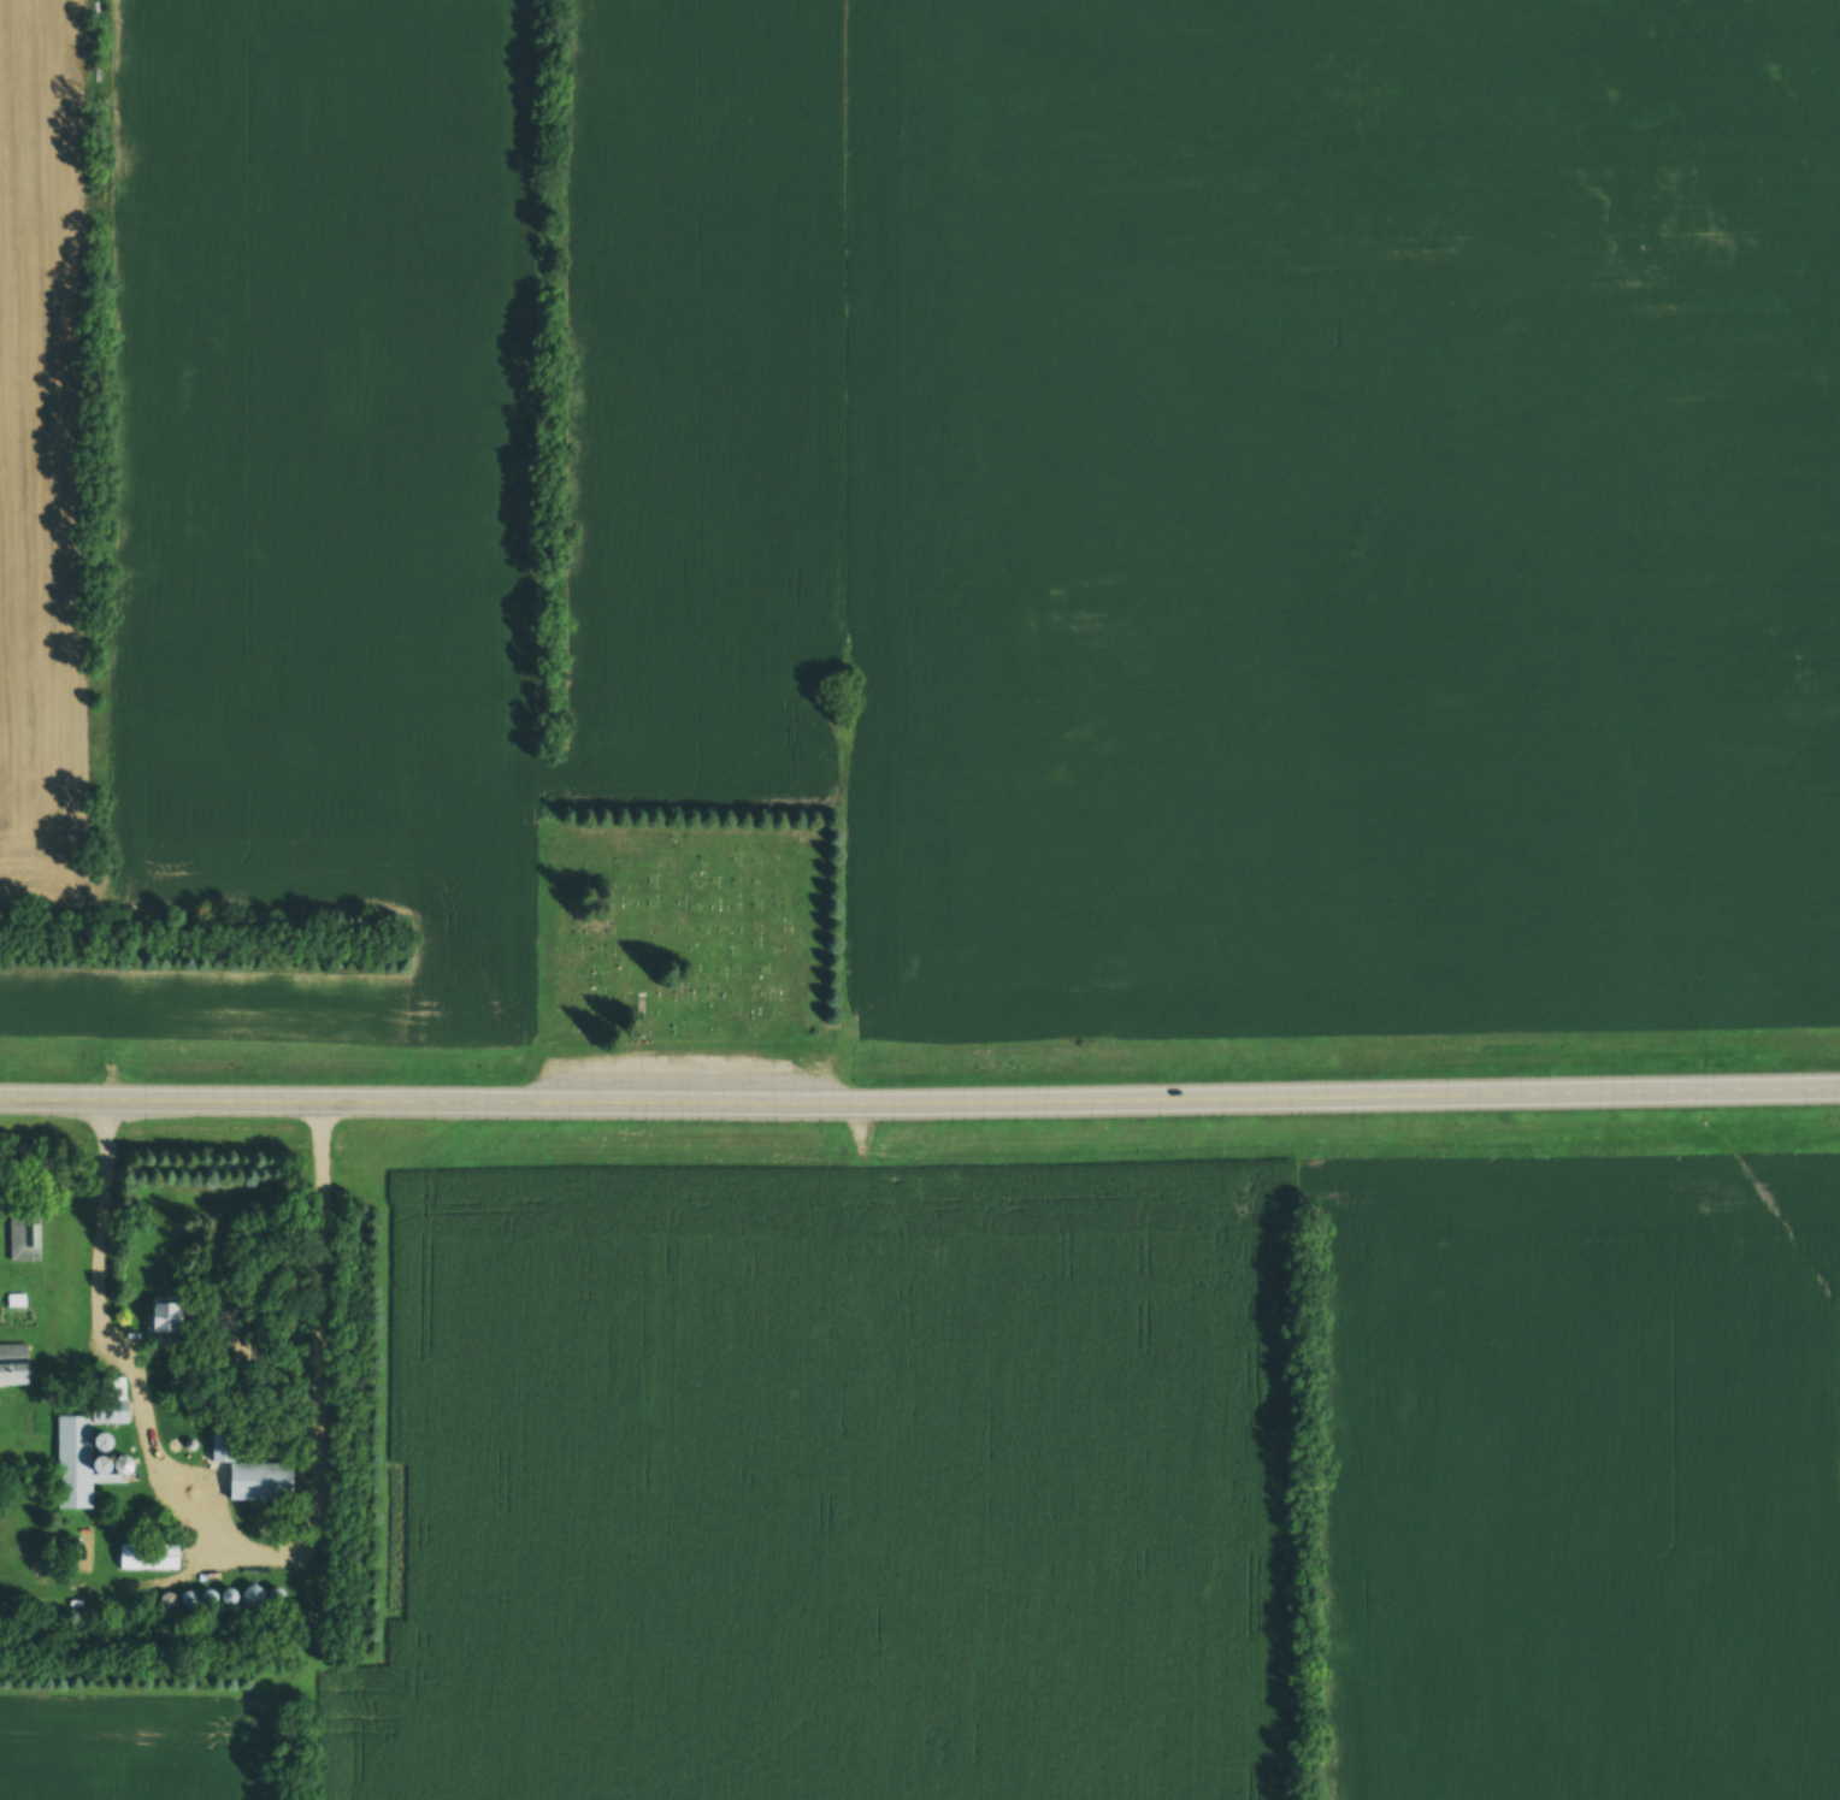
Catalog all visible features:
road: (920, 1103)
building: (24, 1239)
building: (166, 1320)
building: (16, 1367)
building: (87, 1463)
building: (271, 1487)
building: (161, 1558)

